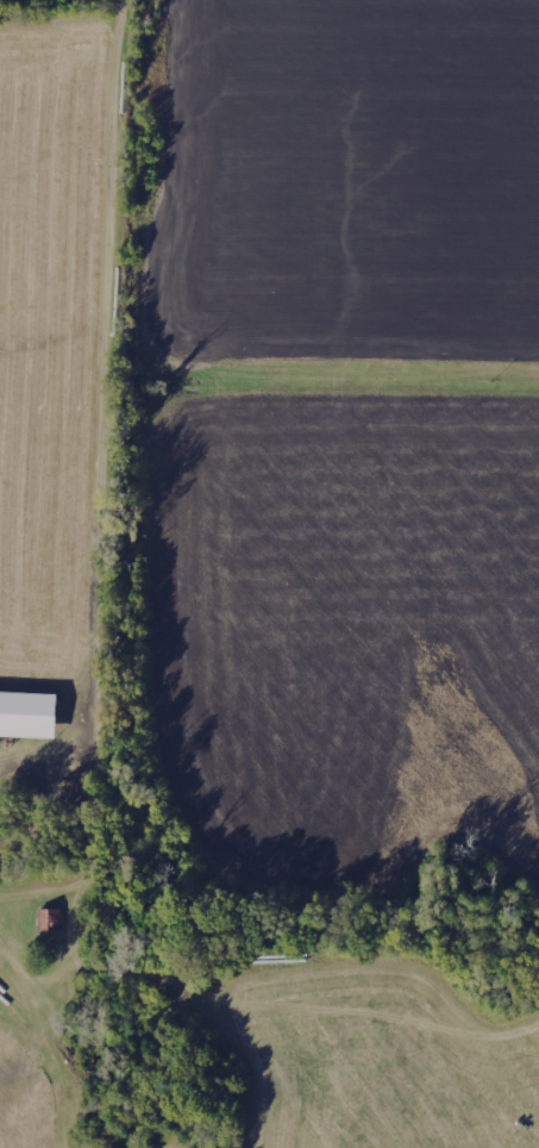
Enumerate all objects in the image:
road: (119, 107)
building: (27, 716)

